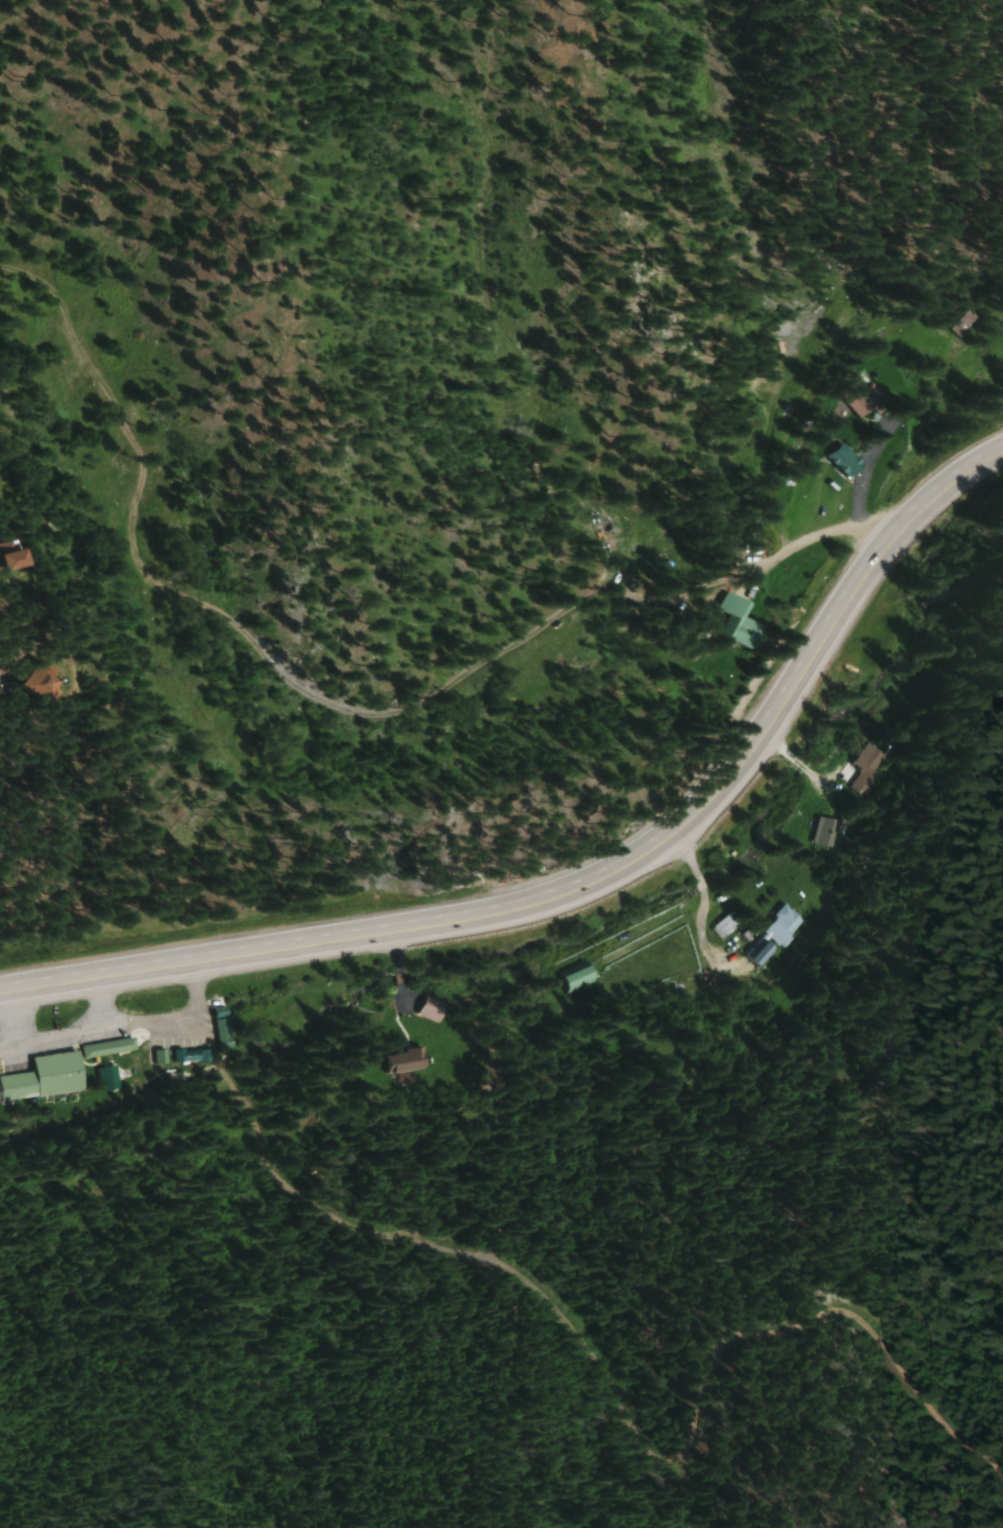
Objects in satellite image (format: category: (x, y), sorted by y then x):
building: (966, 322)
building: (868, 401)
building: (743, 621)
building: (866, 770)
building: (826, 832)
road: (592, 891)
building: (725, 926)
building: (774, 936)
building: (577, 976)
road: (100, 1006)
building: (430, 1010)
road: (10, 1025)
road: (118, 1025)
building: (223, 1027)
building: (110, 1047)
building: (198, 1056)
building: (405, 1061)
building: (47, 1077)
building: (108, 1078)
road: (602, 1382)

